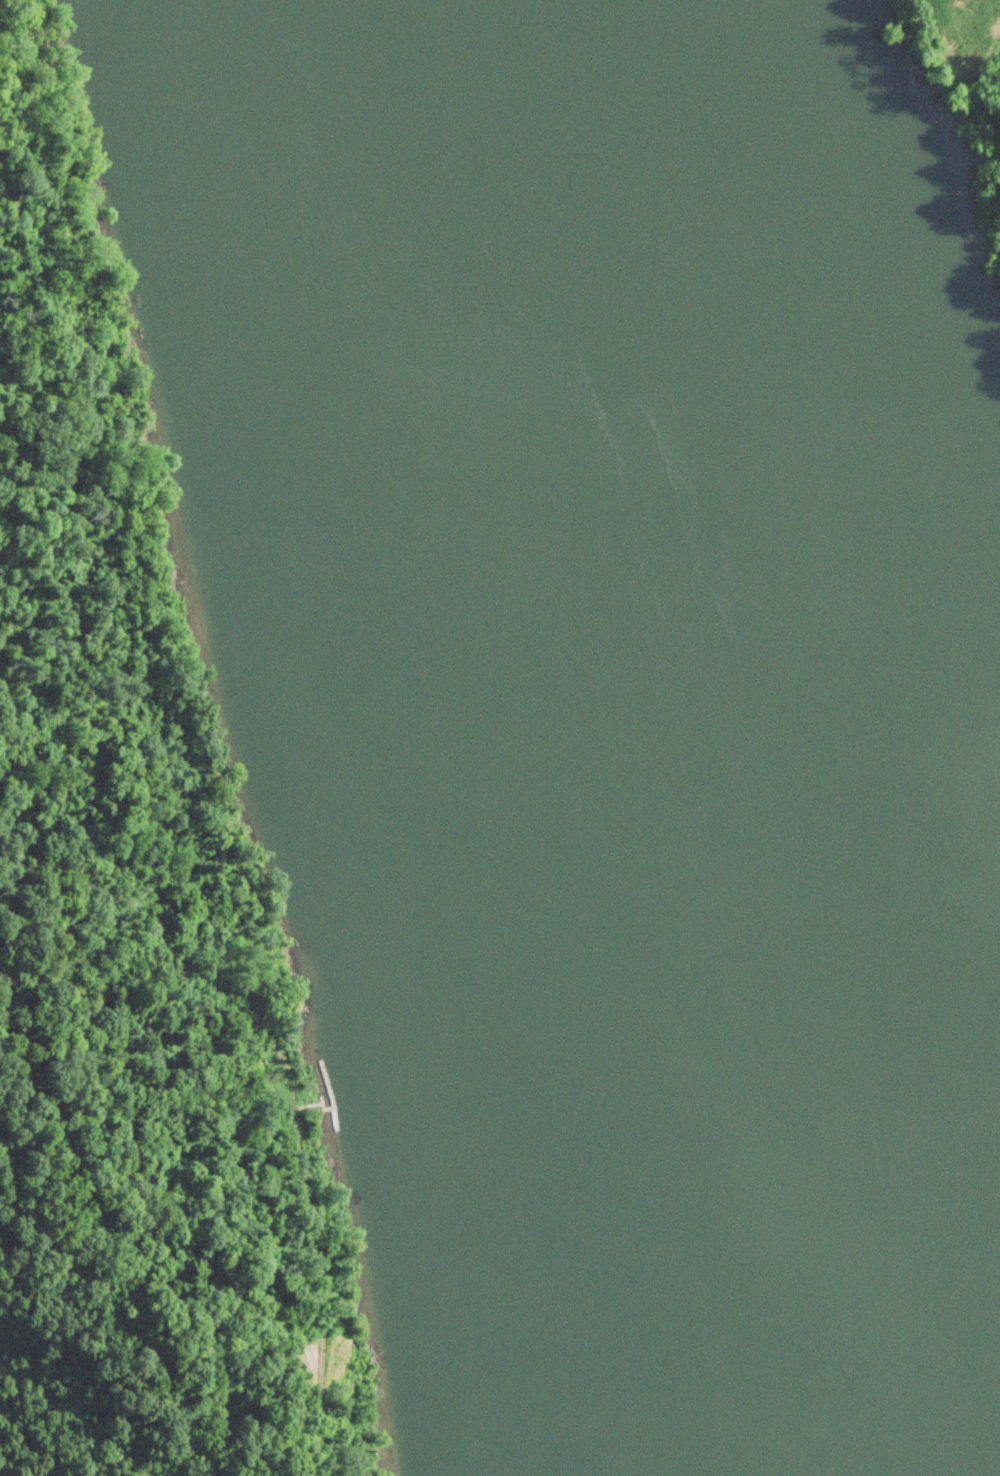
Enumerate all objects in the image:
river: (681, 741)

